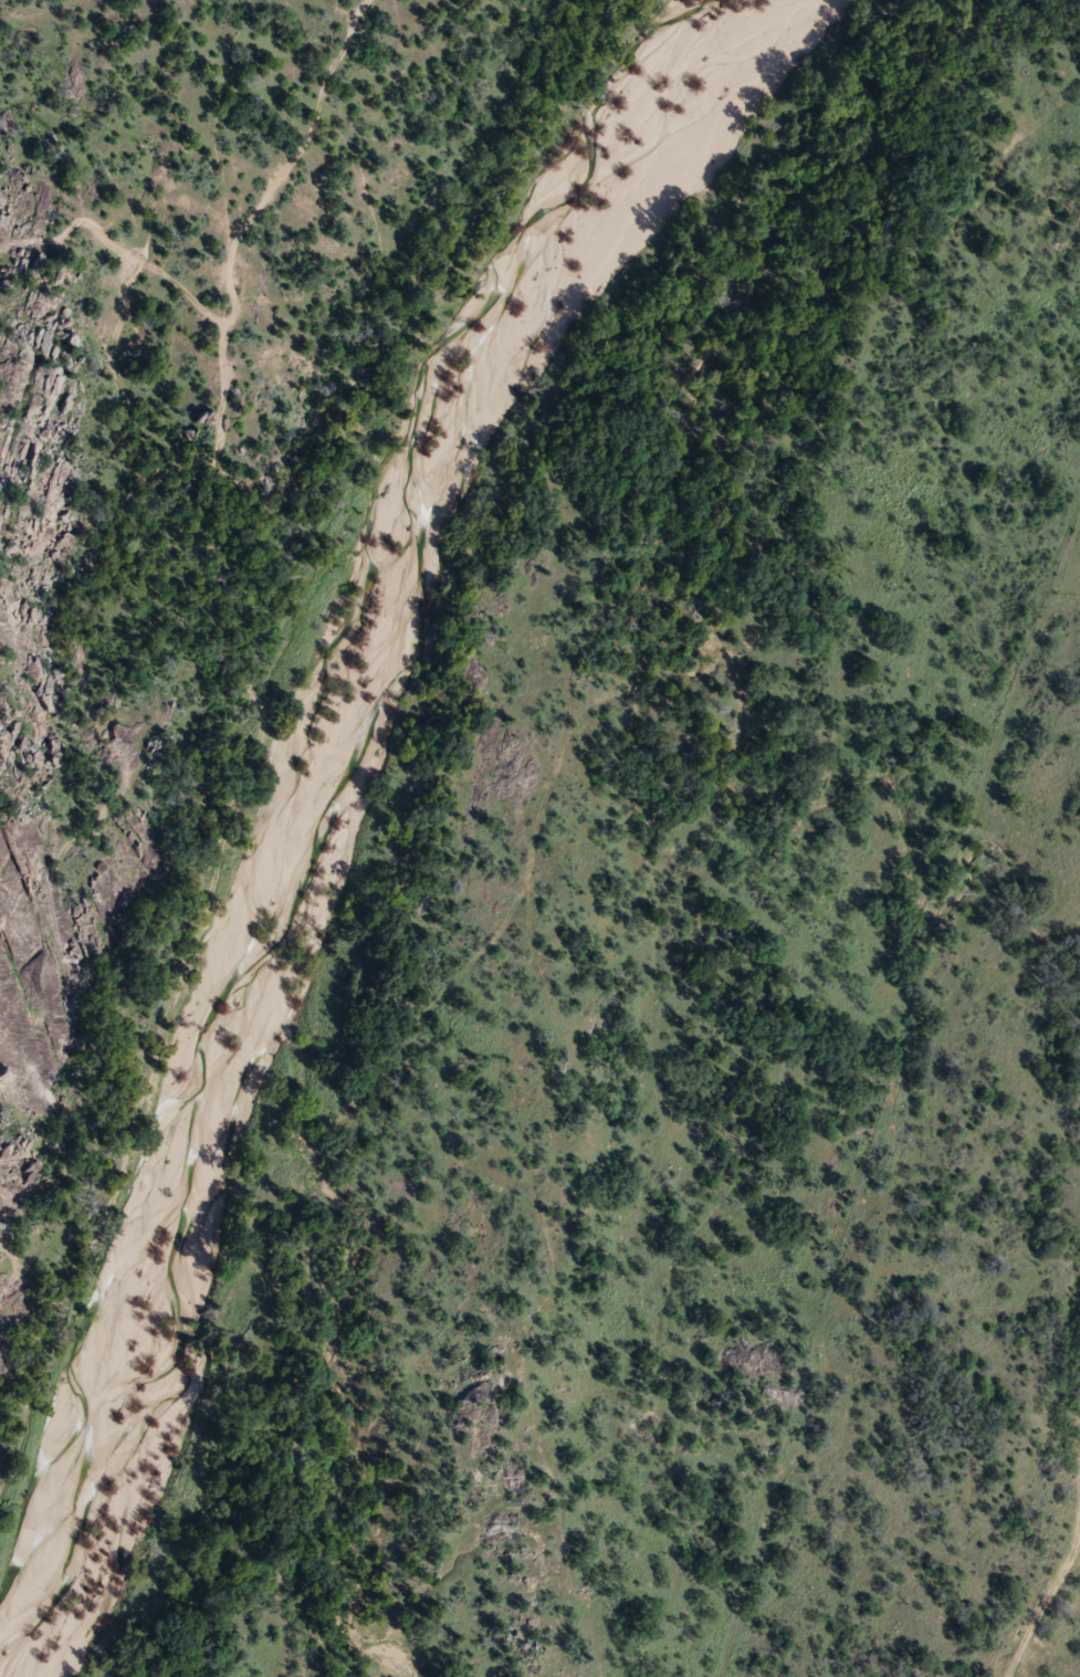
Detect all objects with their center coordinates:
river: (323, 772)
road: (1049, 1591)

